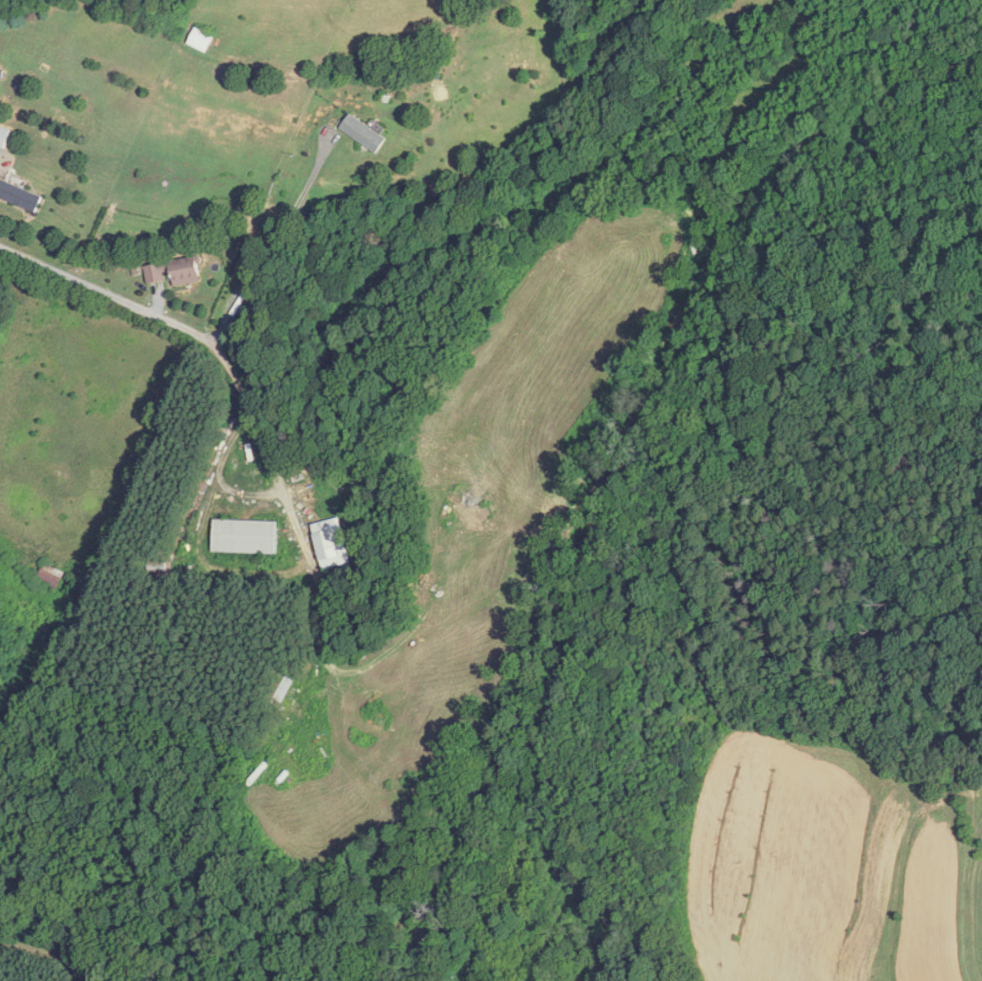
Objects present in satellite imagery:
building: (201, 41)
building: (363, 134)
building: (4, 136)
building: (20, 195)
road: (275, 242)
building: (184, 271)
building: (156, 272)
road: (123, 297)
building: (245, 536)
building: (331, 543)
building: (51, 576)

